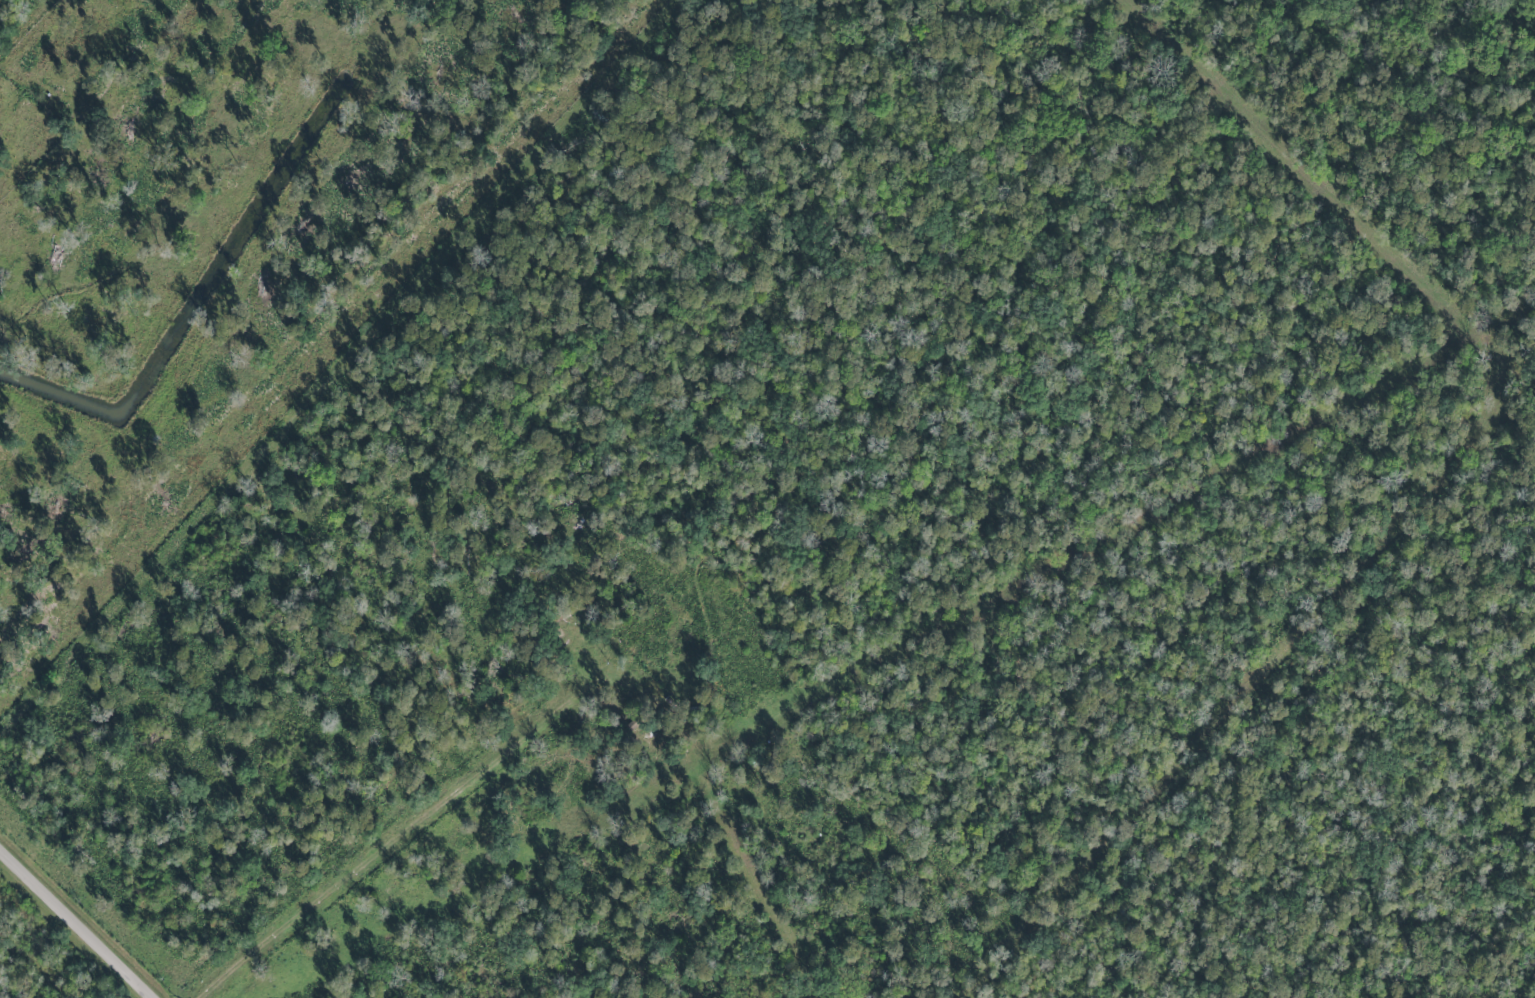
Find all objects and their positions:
road: (76, 923)

